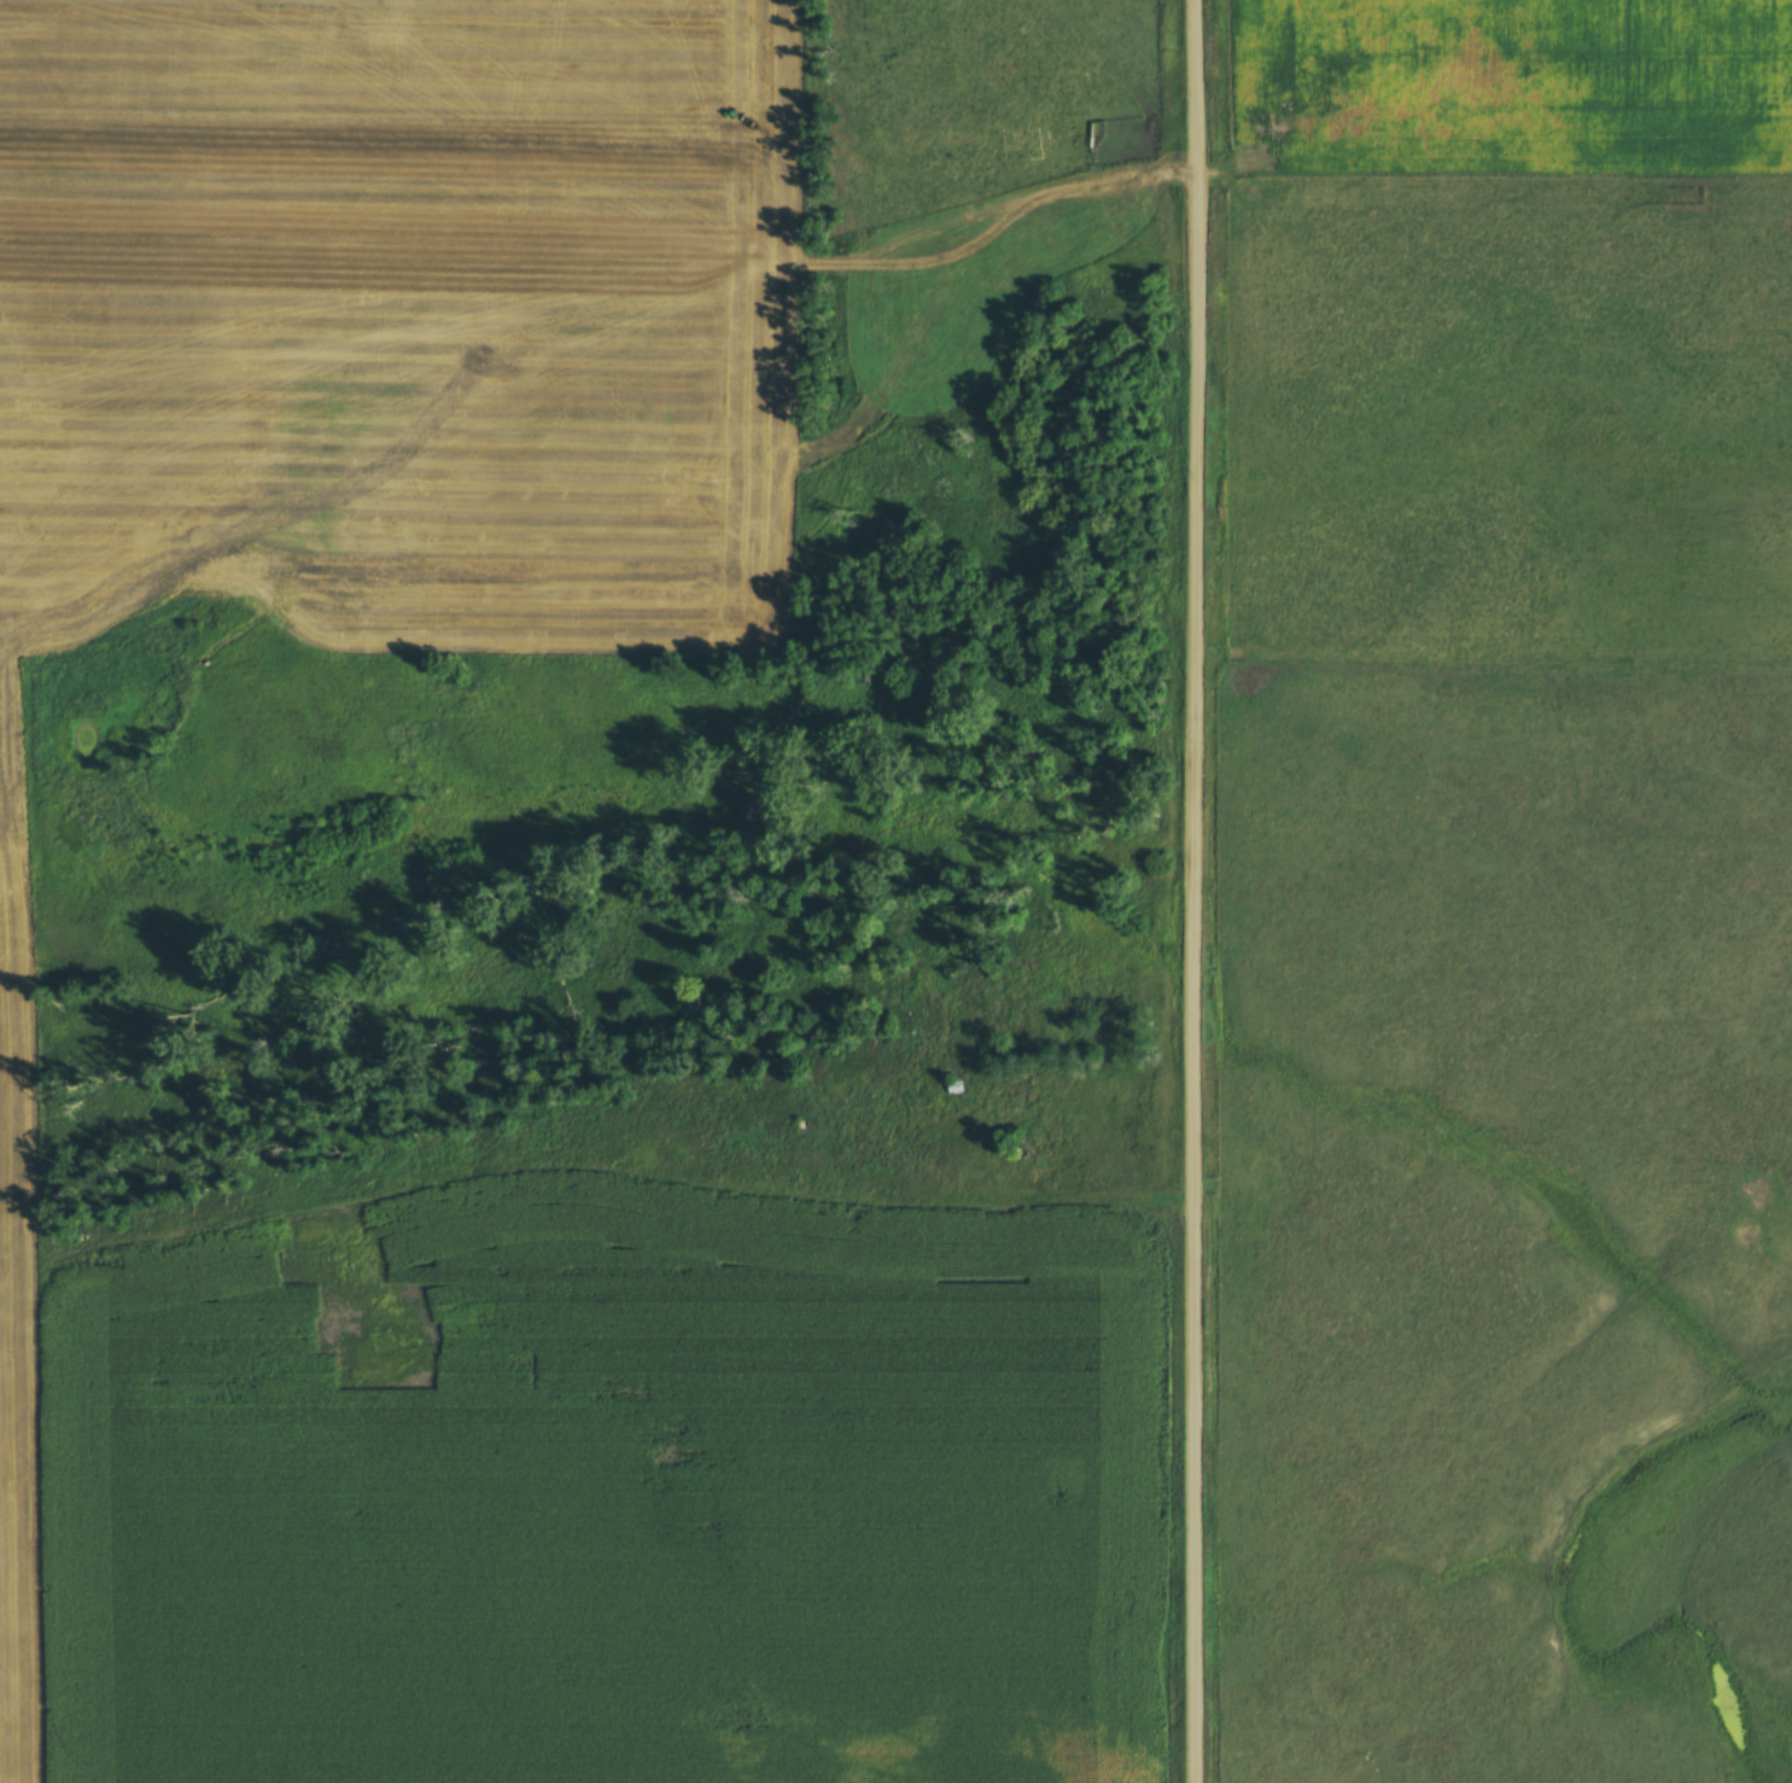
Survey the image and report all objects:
road: (1202, 891)

